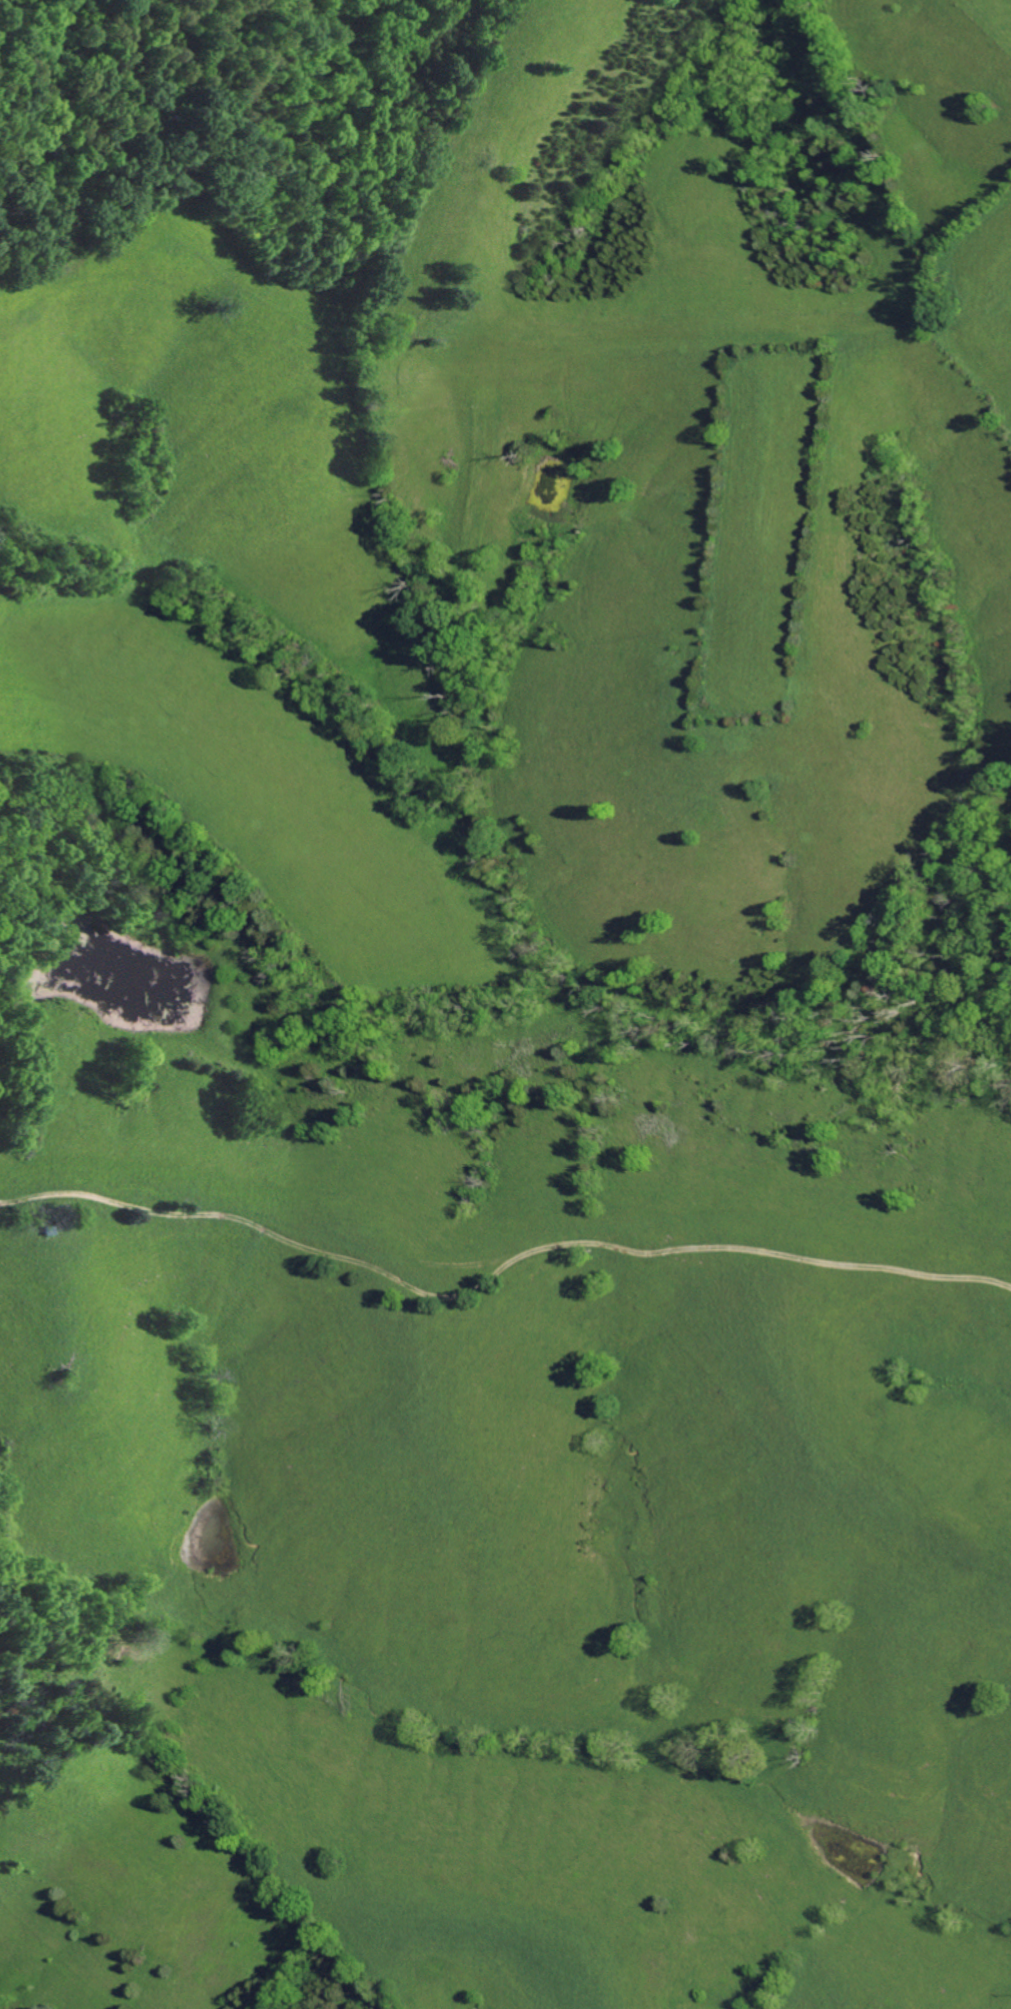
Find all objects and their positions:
road: (500, 1243)

